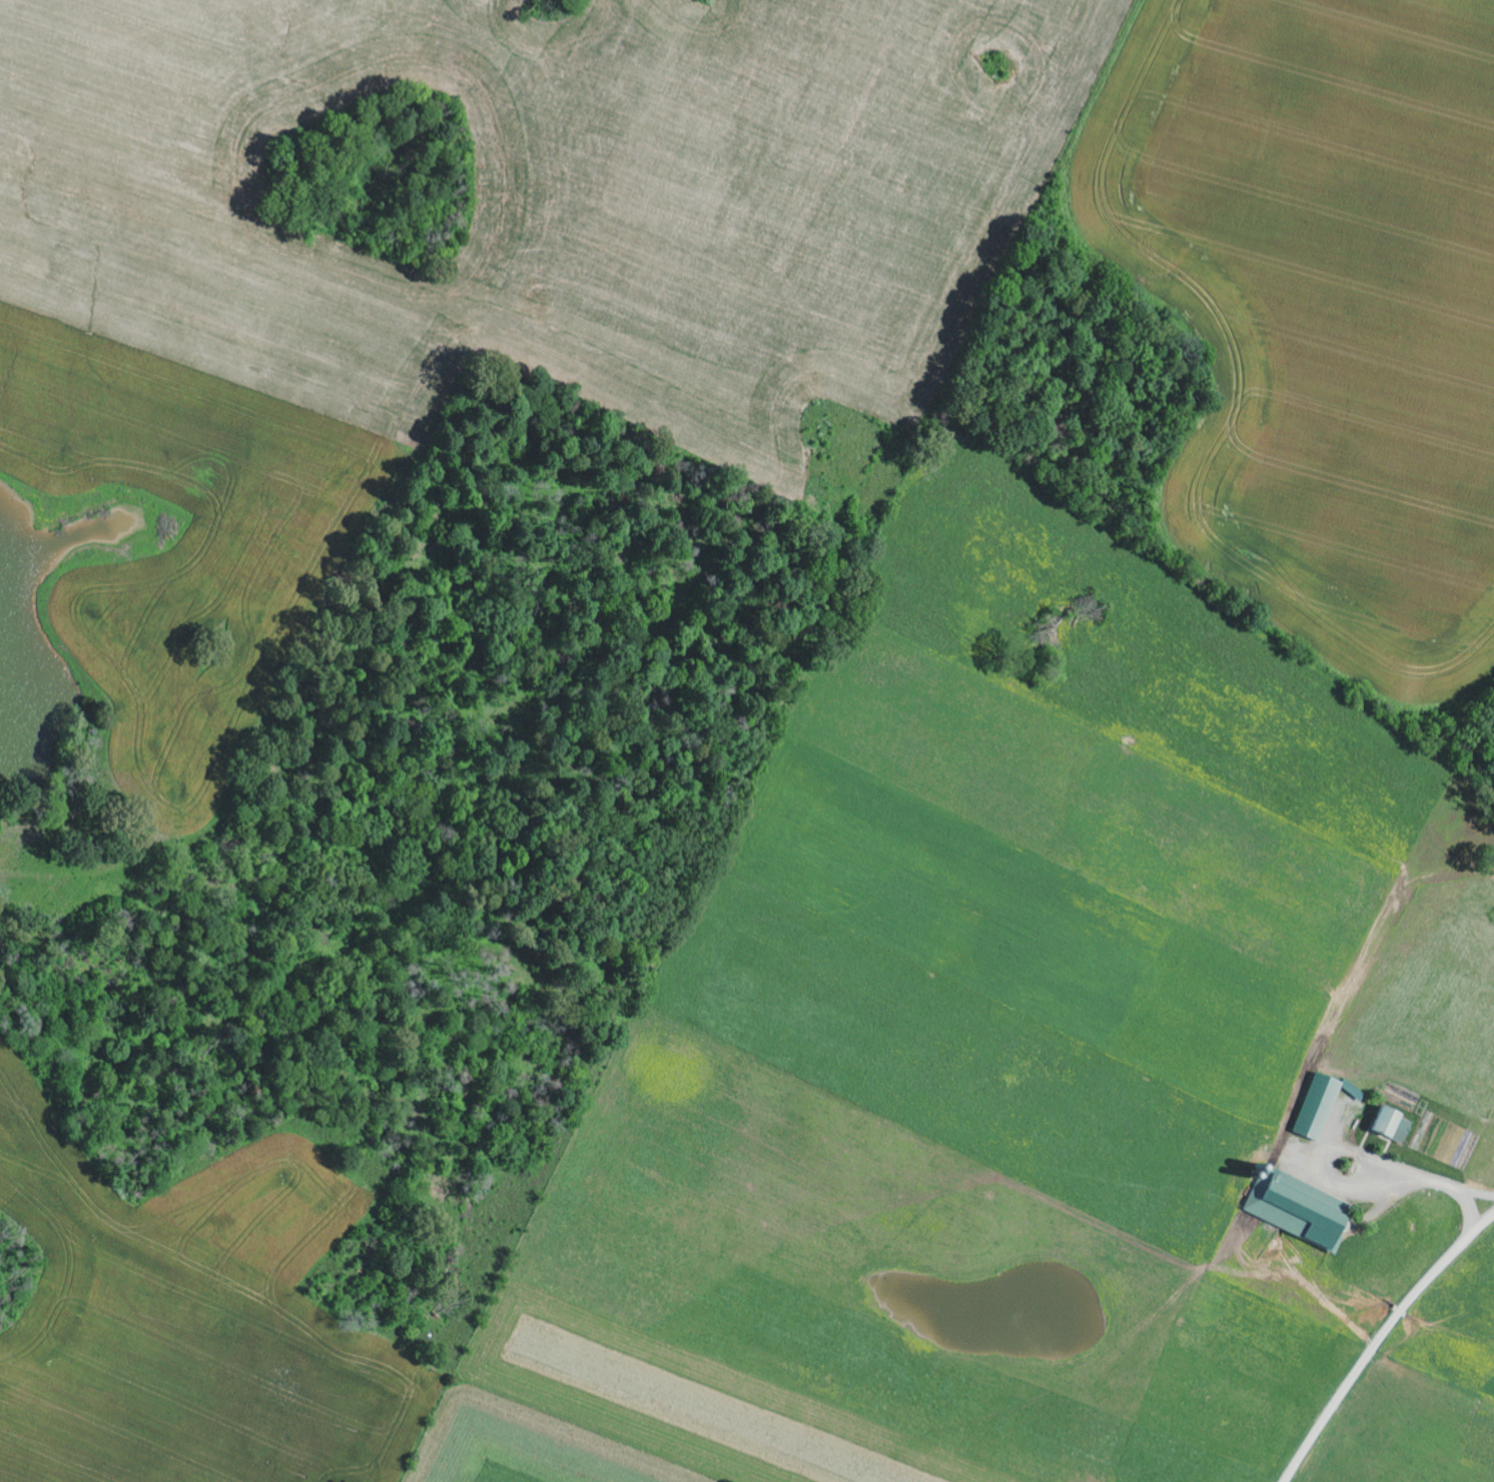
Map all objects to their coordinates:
building: (1312, 1108)
building: (1385, 1126)
building: (1293, 1209)

